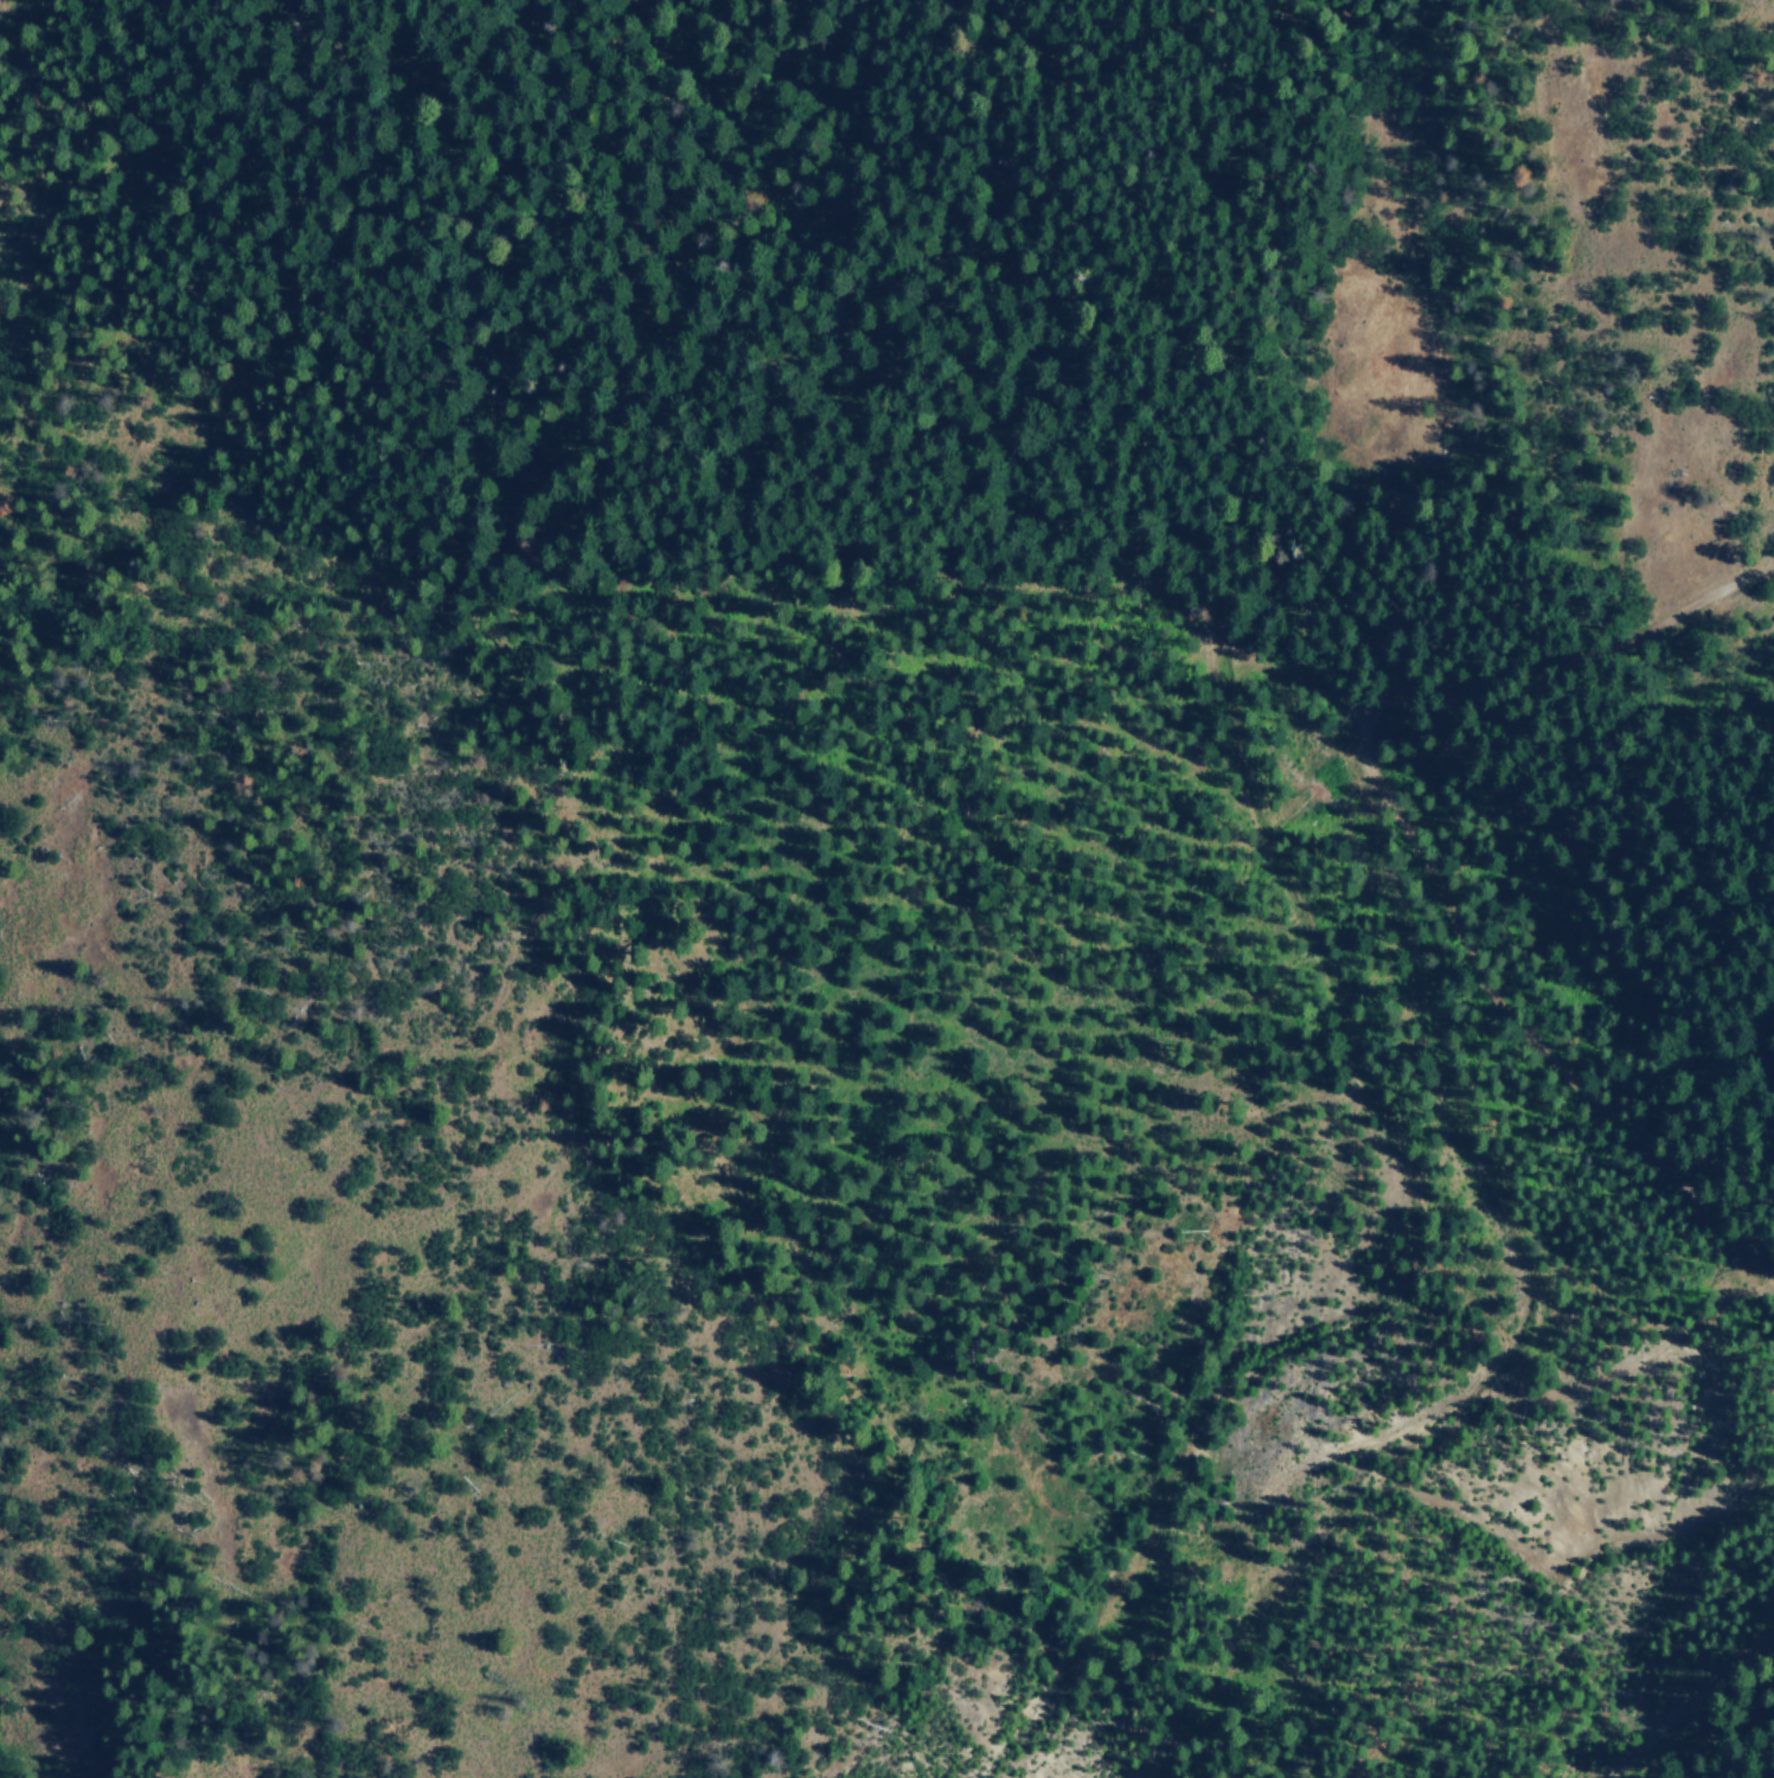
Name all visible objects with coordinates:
road: (1422, 834)
road: (1690, 1702)

